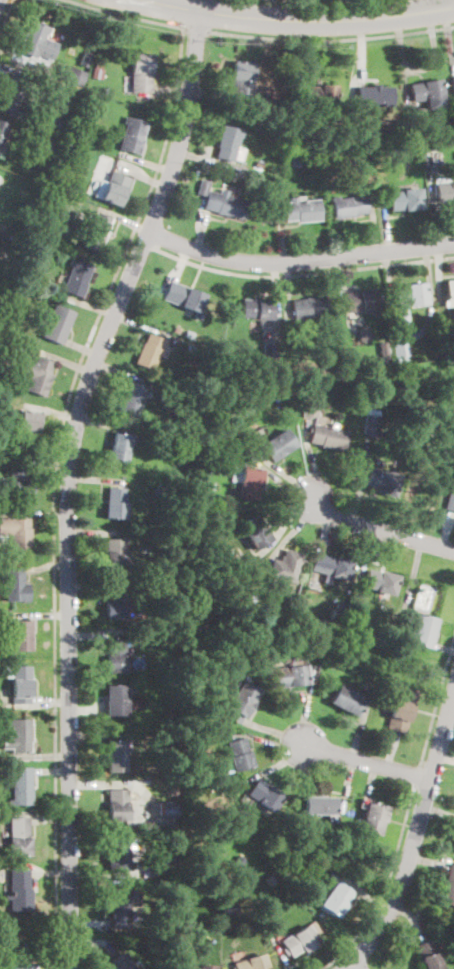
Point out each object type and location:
road: (319, 0)
road: (6, 14)
road: (127, 14)
road: (298, 21)
road: (195, 28)
road: (448, 35)
road: (331, 40)
building: (37, 41)
road: (360, 50)
road: (303, 54)
building: (86, 59)
road: (25, 61)
road: (420, 69)
building: (140, 72)
building: (95, 73)
building: (71, 74)
road: (1, 76)
building: (241, 79)
building: (453, 80)
road: (404, 83)
building: (106, 88)
road: (175, 88)
road: (210, 92)
building: (428, 92)
building: (15, 93)
building: (322, 95)
building: (374, 95)
building: (40, 96)
building: (415, 115)
building: (62, 124)
building: (382, 126)
building: (2, 130)
building: (132, 135)
building: (227, 143)
building: (52, 144)
building: (432, 144)
building: (71, 146)
building: (1, 150)
building: (70, 154)
building: (48, 156)
building: (296, 160)
building: (64, 162)
road: (146, 162)
building: (259, 165)
building: (312, 169)
road: (142, 176)
building: (112, 188)
building: (203, 188)
building: (334, 189)
building: (445, 193)
building: (51, 198)
building: (405, 199)
road: (433, 199)
building: (226, 204)
building: (349, 206)
road: (108, 210)
building: (301, 210)
building: (75, 215)
road: (200, 224)
road: (373, 224)
road: (387, 224)
building: (94, 231)
road: (282, 236)
road: (140, 243)
building: (29, 244)
road: (299, 262)
road: (177, 270)
road: (440, 270)
road: (301, 273)
building: (77, 278)
building: (0, 280)
road: (339, 282)
road: (276, 288)
road: (287, 289)
building: (449, 294)
building: (184, 297)
building: (408, 300)
building: (361, 301)
road: (88, 303)
building: (257, 309)
building: (308, 309)
building: (56, 323)
road: (140, 324)
building: (363, 334)
road: (414, 335)
building: (429, 346)
road: (82, 347)
building: (12, 349)
building: (150, 351)
building: (398, 351)
building: (269, 353)
building: (369, 356)
road: (66, 361)
building: (322, 364)
building: (5, 367)
road: (121, 372)
building: (36, 374)
building: (226, 375)
building: (428, 381)
building: (269, 389)
building: (449, 393)
building: (236, 395)
building: (410, 398)
building: (133, 399)
building: (309, 409)
road: (50, 411)
building: (372, 422)
building: (26, 424)
road: (105, 424)
building: (328, 436)
building: (212, 442)
building: (277, 444)
building: (119, 449)
building: (186, 449)
road: (312, 458)
road: (51, 463)
road: (282, 472)
road: (68, 478)
road: (362, 479)
road: (94, 480)
road: (278, 480)
building: (247, 481)
building: (388, 482)
building: (19, 484)
road: (54, 487)
building: (450, 498)
building: (114, 503)
road: (39, 512)
road: (286, 524)
road: (297, 527)
road: (380, 529)
road: (447, 529)
road: (324, 530)
building: (253, 531)
building: (17, 533)
road: (95, 533)
building: (115, 555)
road: (366, 555)
road: (45, 564)
building: (159, 567)
building: (286, 567)
building: (331, 567)
road: (414, 577)
building: (380, 581)
building: (15, 585)
building: (186, 602)
building: (115, 603)
building: (341, 606)
building: (337, 613)
road: (44, 616)
building: (173, 619)
road: (93, 623)
building: (421, 630)
building: (19, 635)
road: (94, 636)
road: (443, 647)
building: (115, 656)
building: (357, 664)
building: (282, 671)
building: (312, 673)
building: (21, 684)
building: (116, 700)
building: (347, 700)
road: (39, 702)
building: (241, 702)
road: (437, 702)
road: (452, 705)
road: (310, 706)
road: (85, 709)
building: (400, 710)
road: (361, 727)
road: (276, 732)
building: (18, 736)
road: (277, 741)
road: (390, 750)
road: (36, 755)
building: (116, 756)
building: (238, 756)
road: (446, 757)
road: (368, 762)
road: (279, 764)
road: (51, 770)
road: (417, 774)
road: (371, 783)
road: (96, 784)
road: (348, 785)
building: (21, 787)
building: (265, 795)
building: (117, 805)
building: (320, 805)
building: (167, 809)
road: (439, 811)
road: (51, 817)
building: (372, 819)
building: (19, 837)
road: (415, 839)
building: (452, 843)
building: (360, 847)
building: (300, 849)
building: (119, 854)
building: (239, 860)
road: (428, 861)
building: (288, 863)
building: (167, 864)
building: (282, 869)
road: (52, 872)
road: (111, 873)
building: (270, 880)
road: (386, 885)
building: (448, 888)
building: (167, 889)
building: (19, 891)
road: (366, 893)
building: (336, 899)
building: (121, 904)
building: (264, 906)
building: (230, 909)
road: (413, 917)
road: (89, 923)
building: (300, 939)
building: (182, 940)
road: (95, 942)
road: (282, 954)
building: (428, 955)
building: (119, 962)
building: (251, 963)
building: (18, 965)
road: (356, 965)
building: (197, 966)
road: (231, 968)

